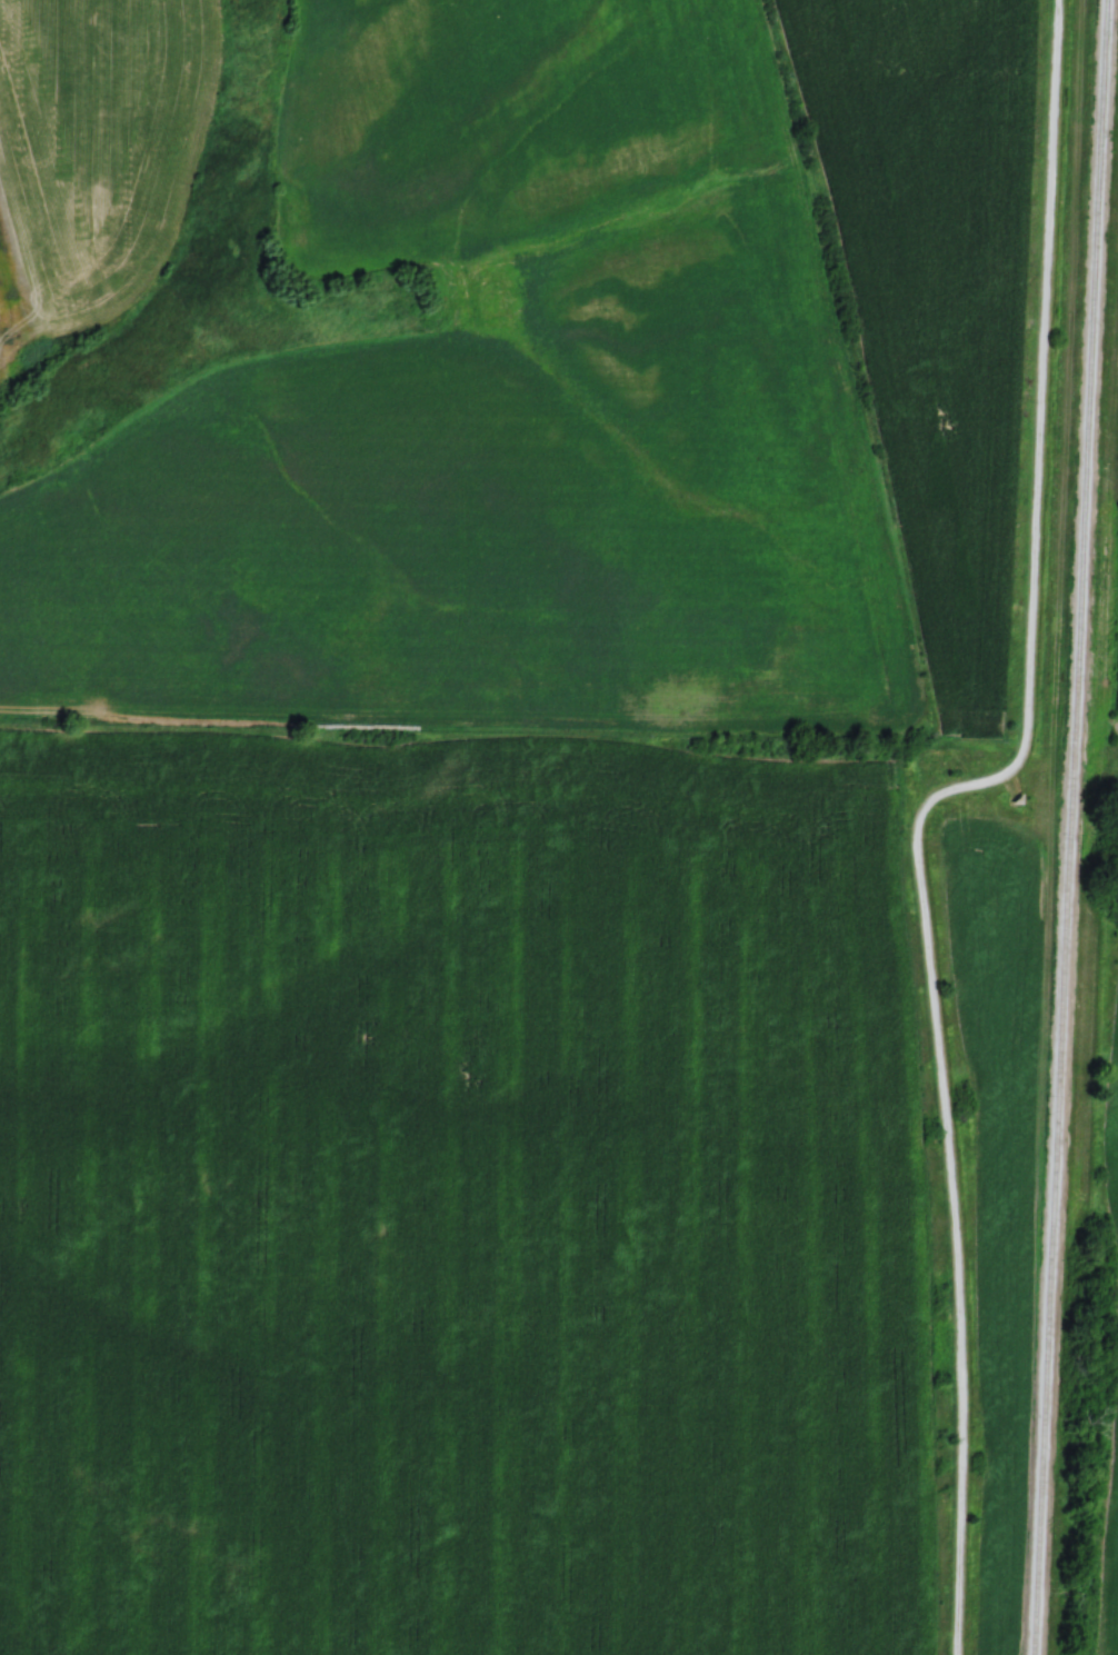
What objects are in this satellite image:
crop: (929, 291)
road: (1034, 447)
crop: (1115, 671)
railway: (1070, 827)
crop: (451, 1199)
road: (951, 1240)

